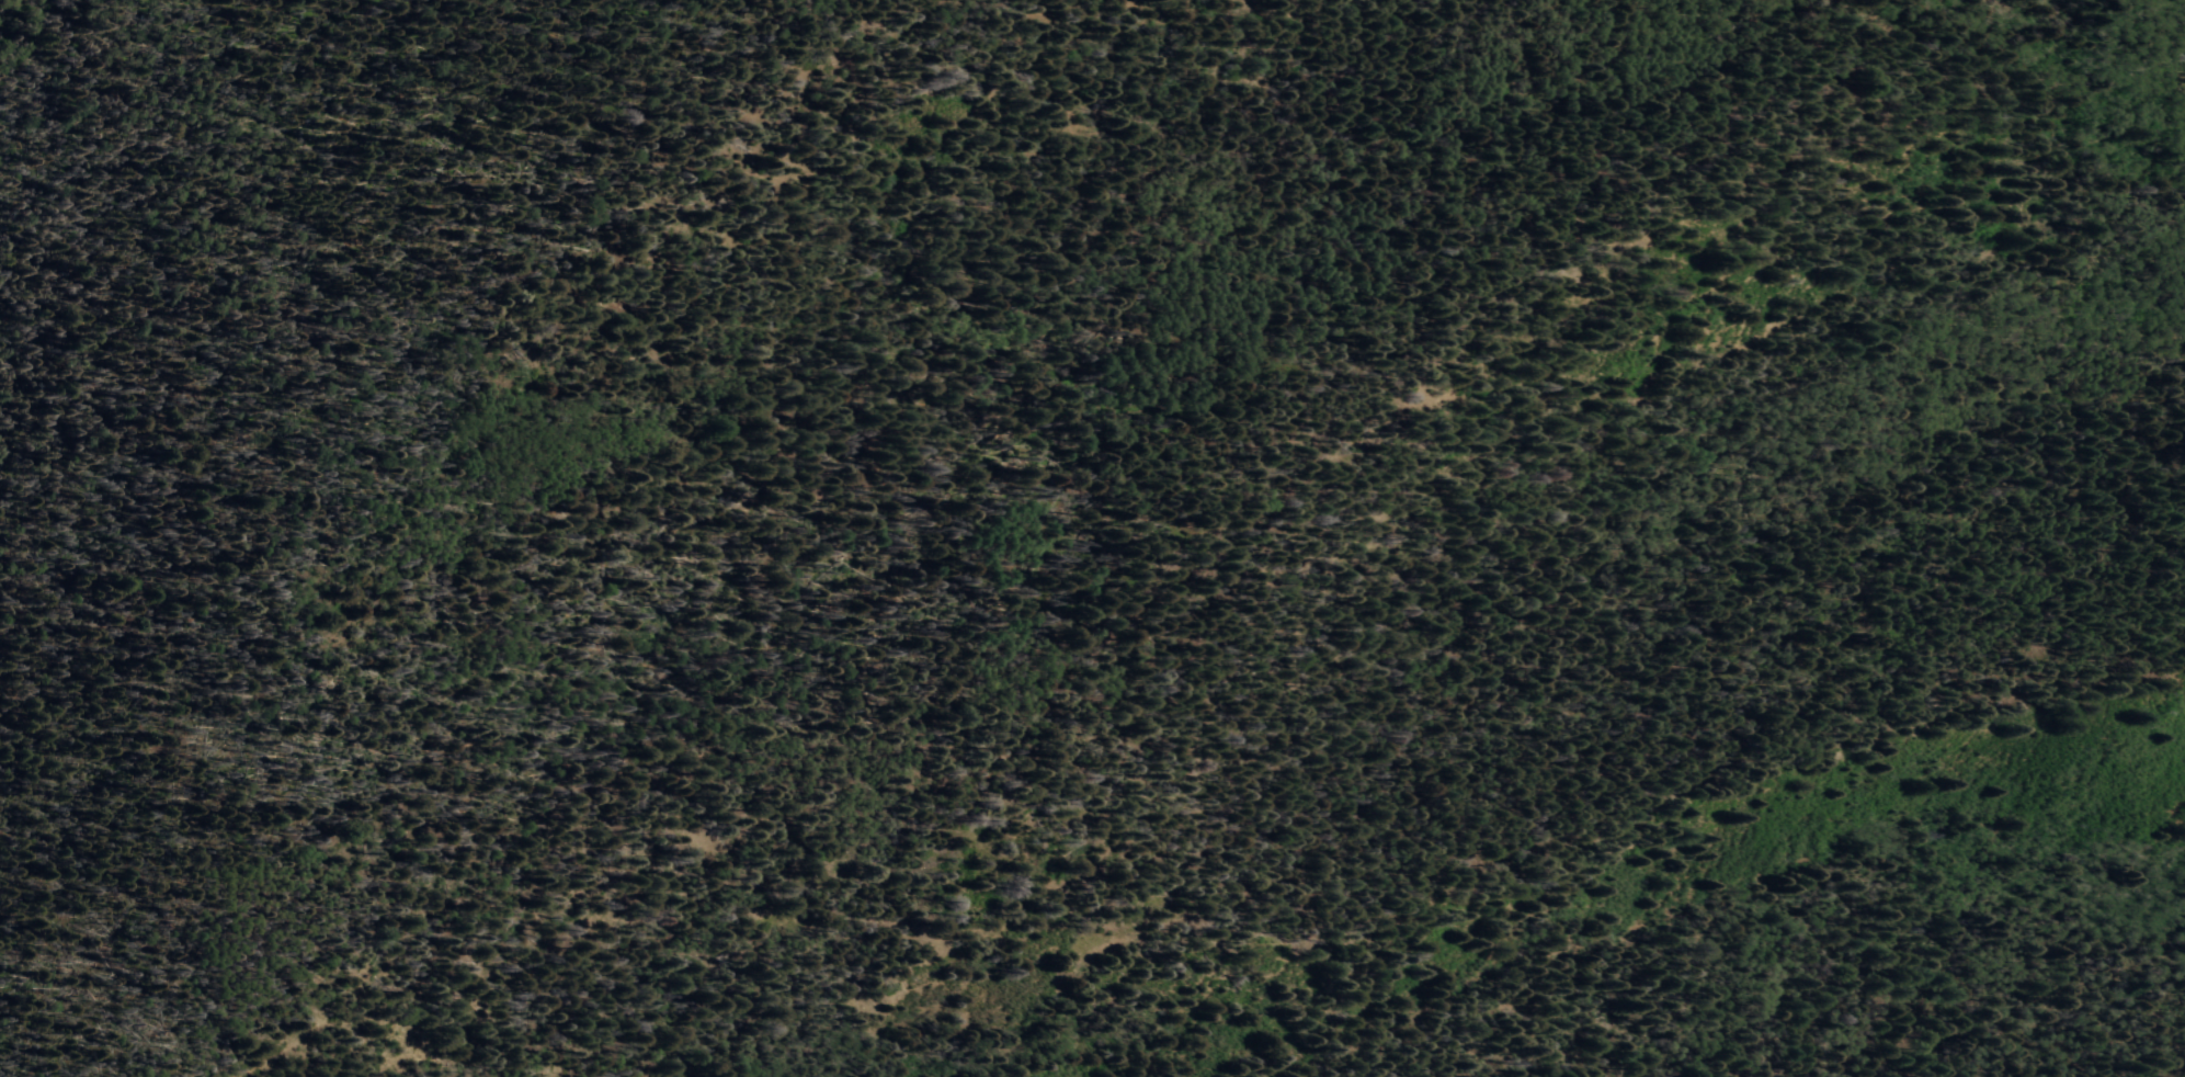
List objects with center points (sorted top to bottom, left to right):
road: (24, 45)
road: (1263, 475)
road: (2080, 998)

